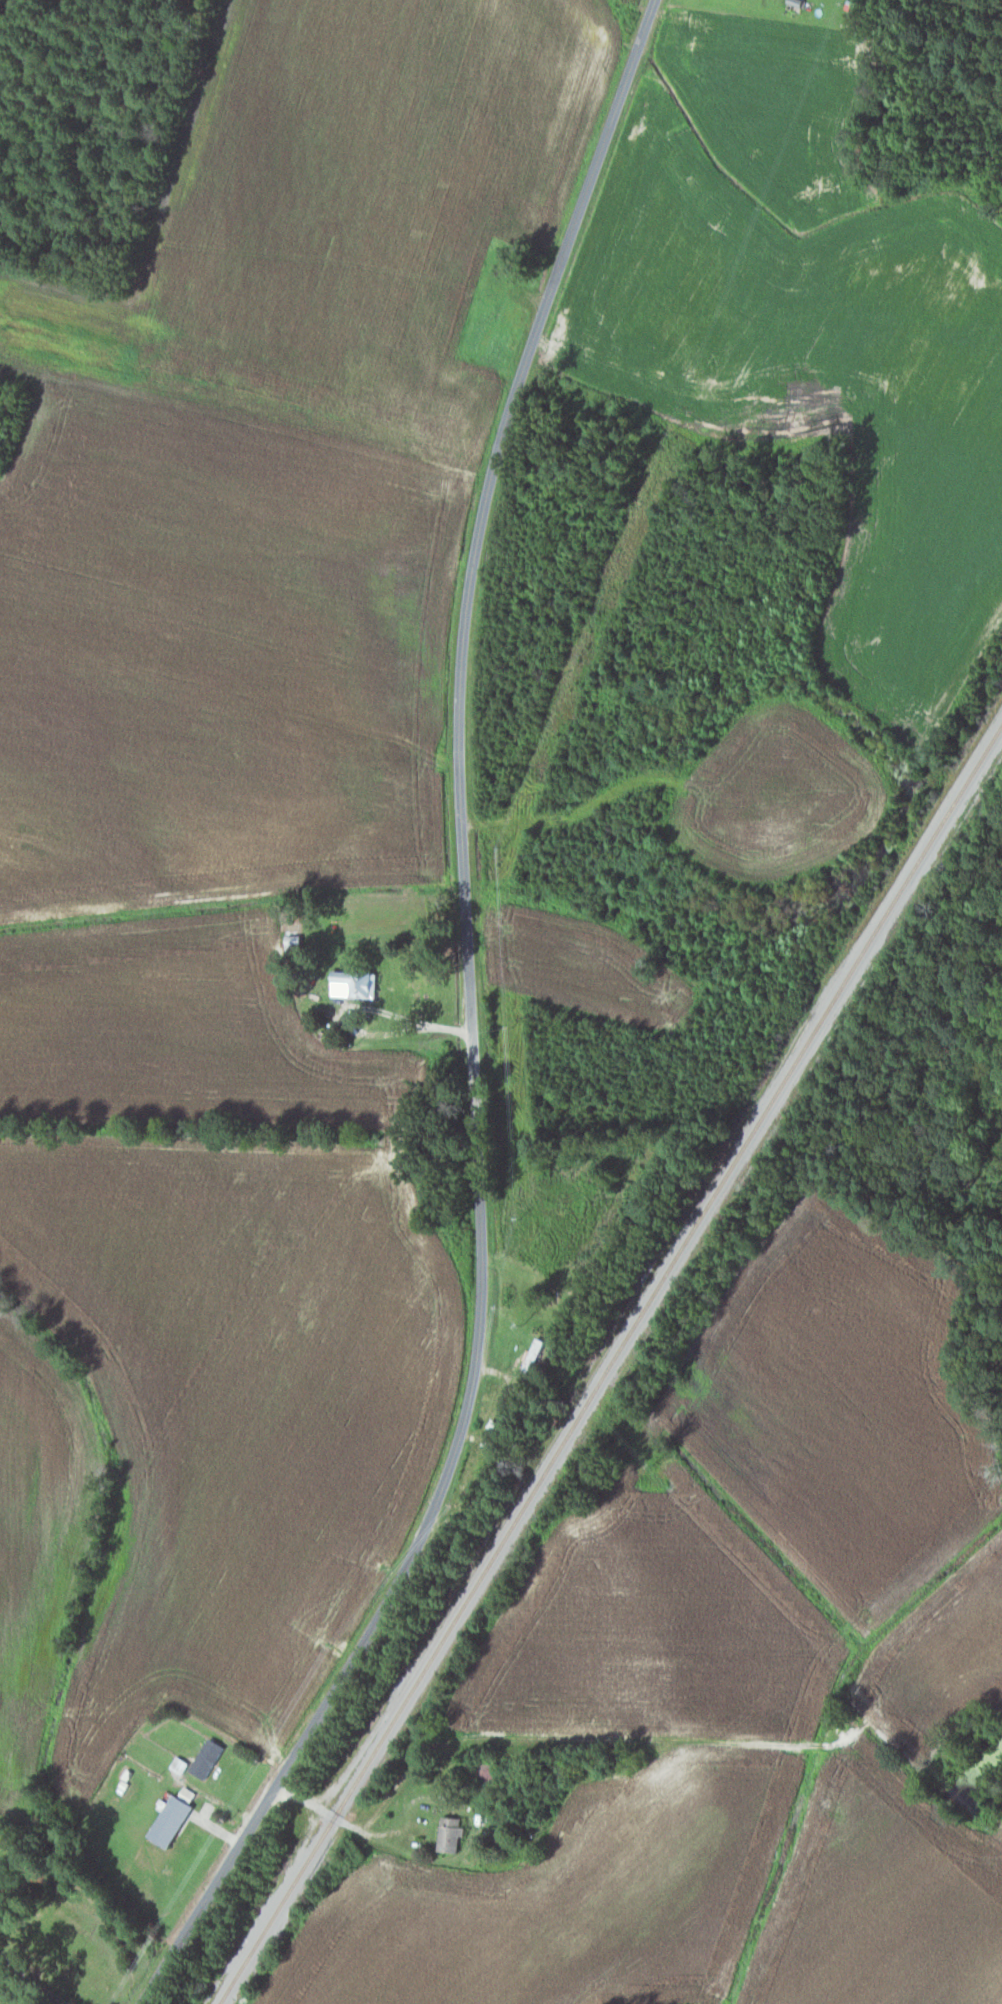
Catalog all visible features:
building: (349, 983)
road: (368, 1007)
road: (468, 1030)
railway: (611, 1364)
building: (166, 1820)
building: (447, 1833)
road: (30, 1985)

